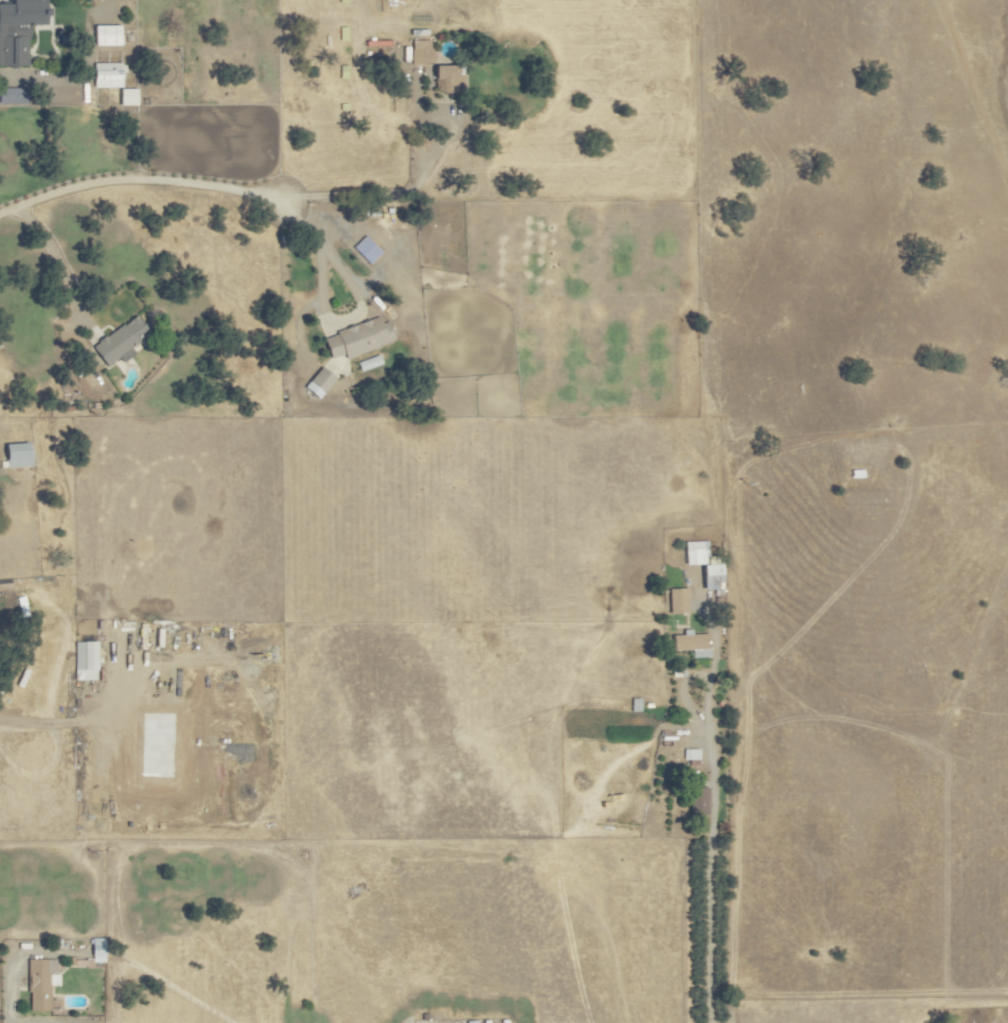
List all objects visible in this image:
building: (18, 29)
building: (106, 35)
building: (421, 52)
building: (107, 75)
building: (446, 78)
road: (975, 80)
building: (13, 96)
building: (127, 97)
road: (421, 175)
road: (141, 181)
building: (366, 250)
road: (56, 257)
building: (358, 339)
building: (120, 342)
building: (369, 363)
building: (319, 382)
building: (18, 455)
building: (696, 553)
building: (712, 577)
building: (677, 600)
building: (692, 644)
building: (85, 661)
crop: (529, 693)
building: (691, 755)
building: (698, 801)
road: (699, 848)
building: (97, 950)
road: (10, 961)
building: (40, 983)

